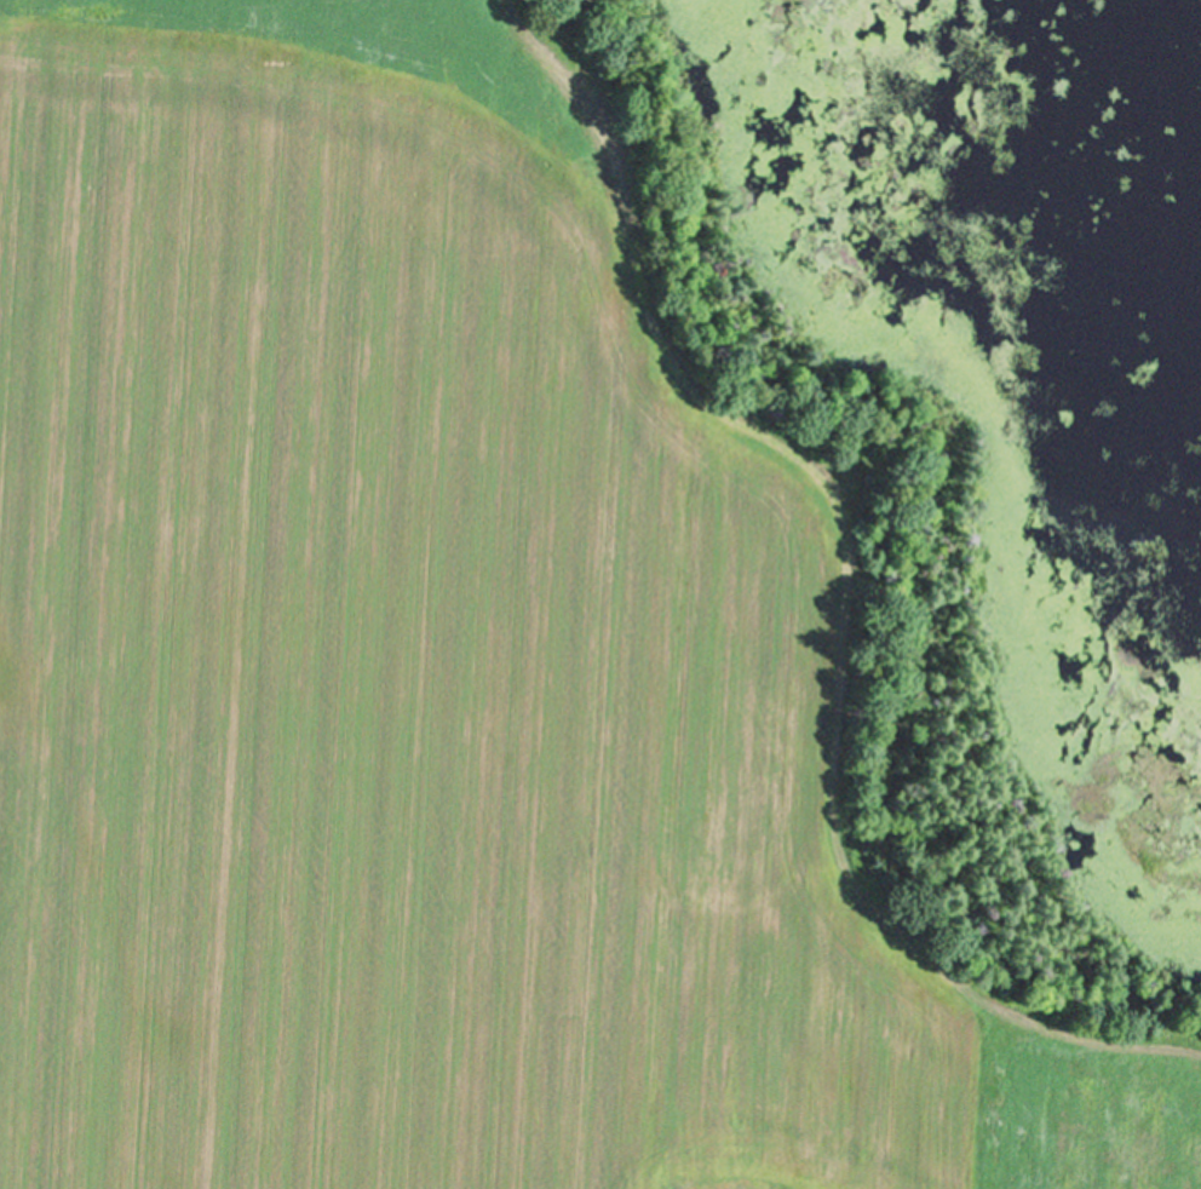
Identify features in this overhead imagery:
crop: (436, 667)

